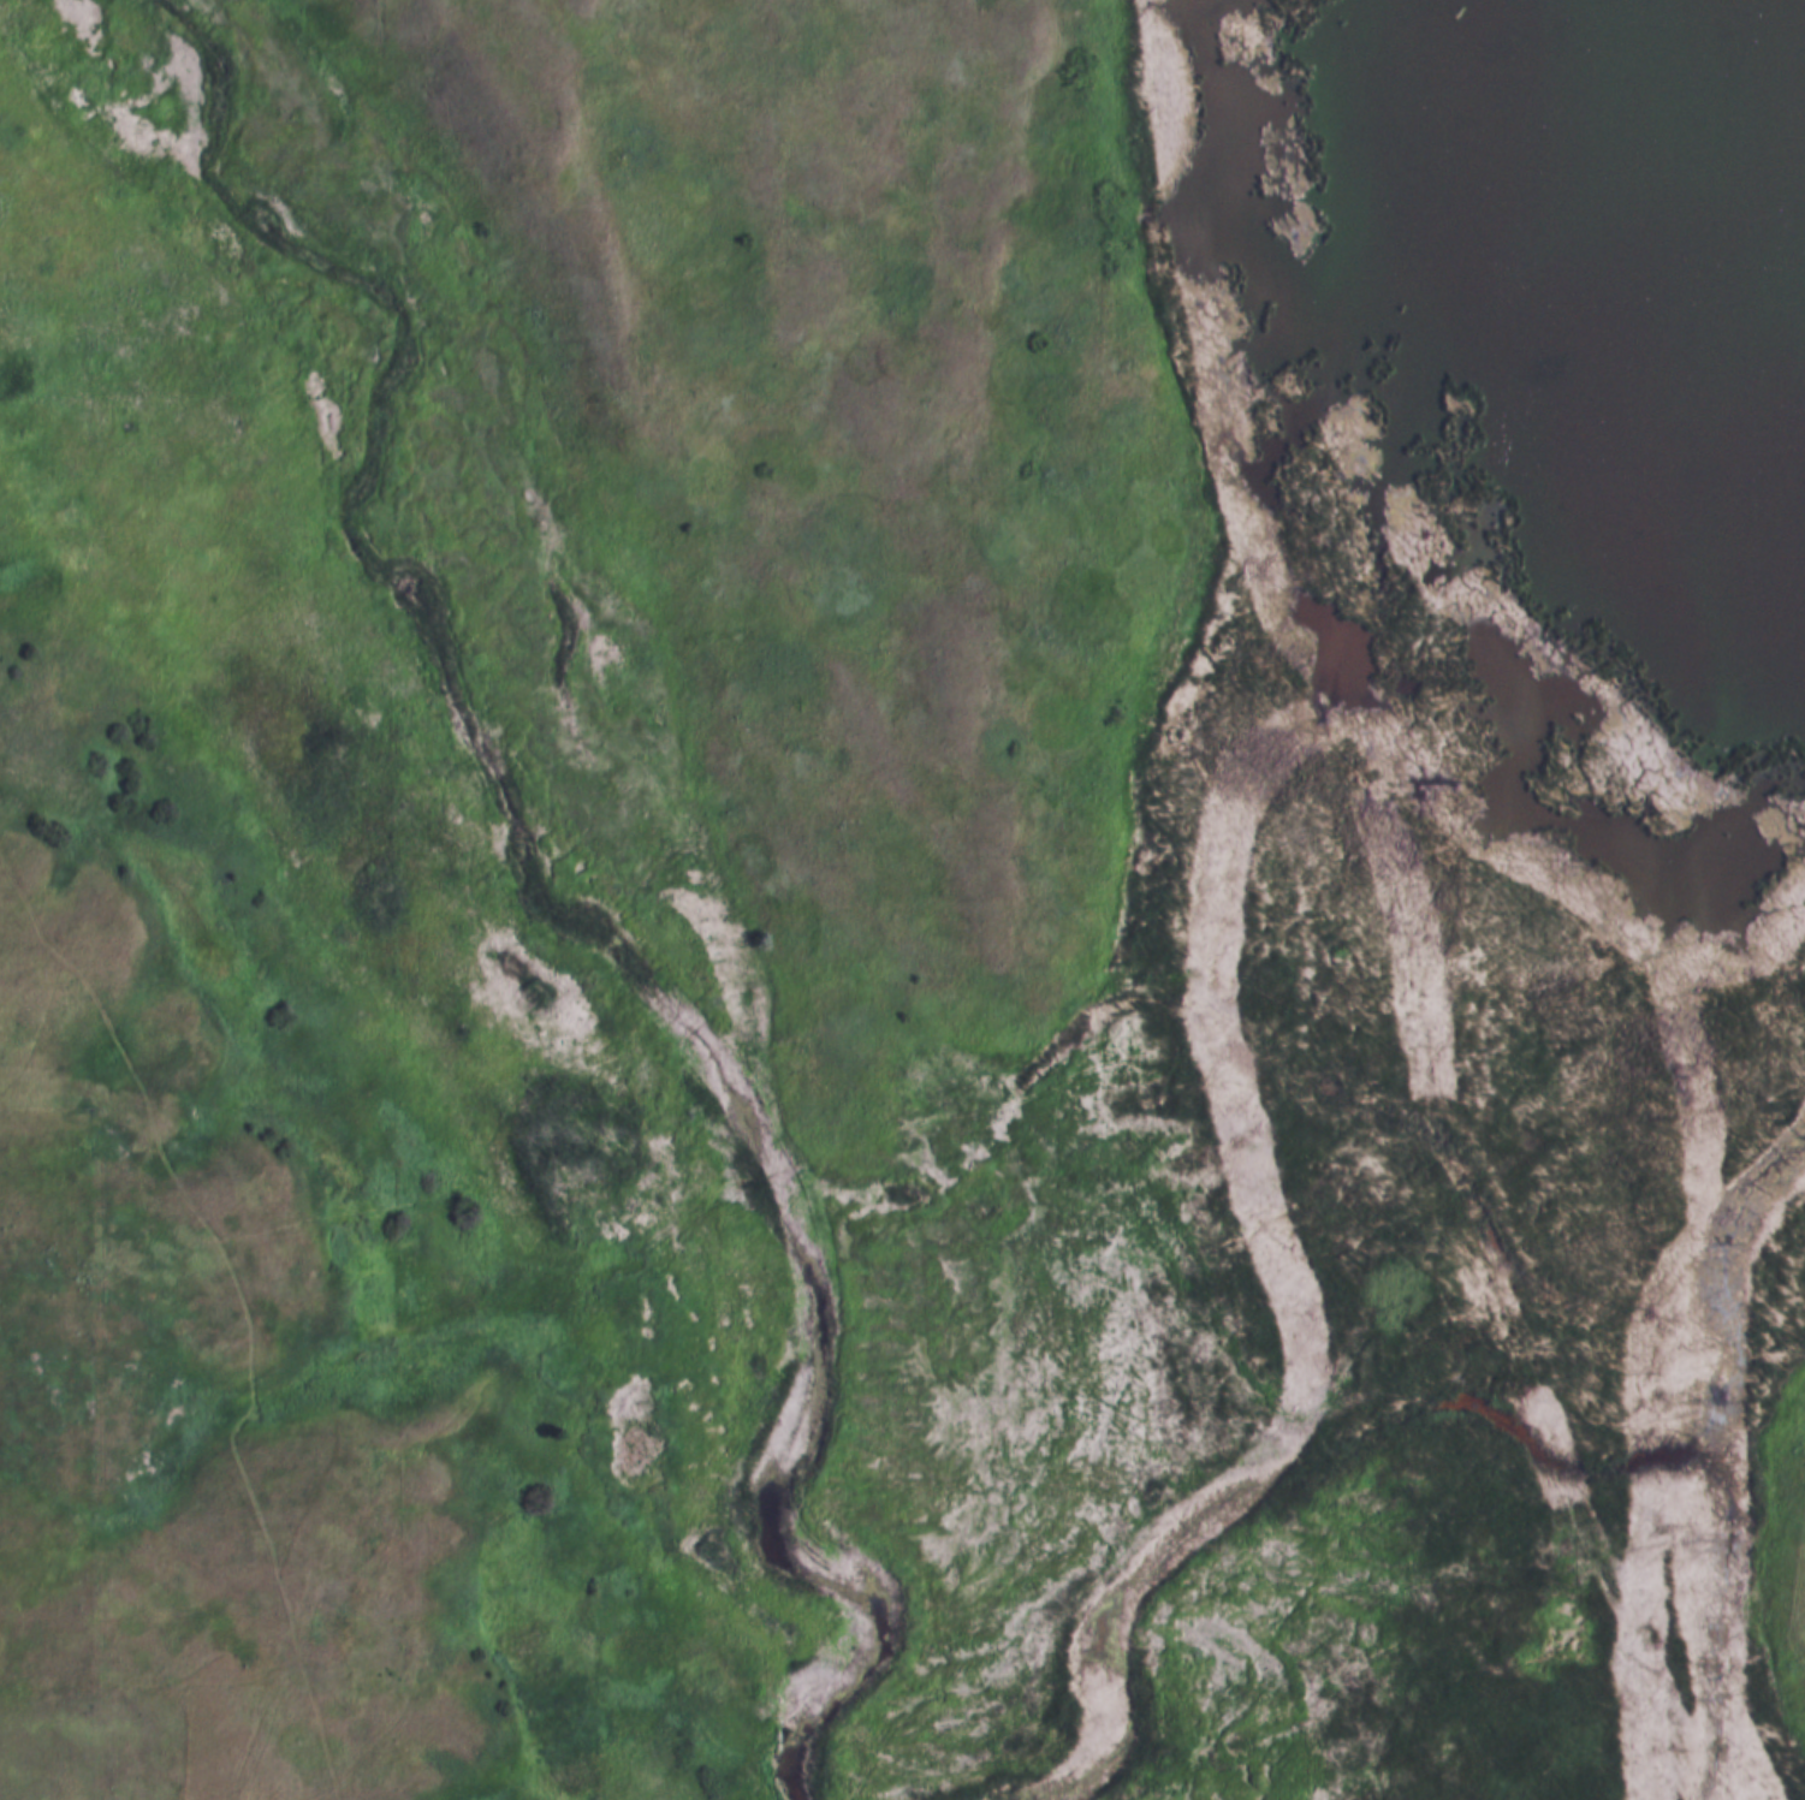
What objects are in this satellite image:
river: (524, 868)
road: (219, 1300)
river: (1669, 1461)
river: (1739, 1492)
river: (1258, 1515)
river: (1728, 1667)

